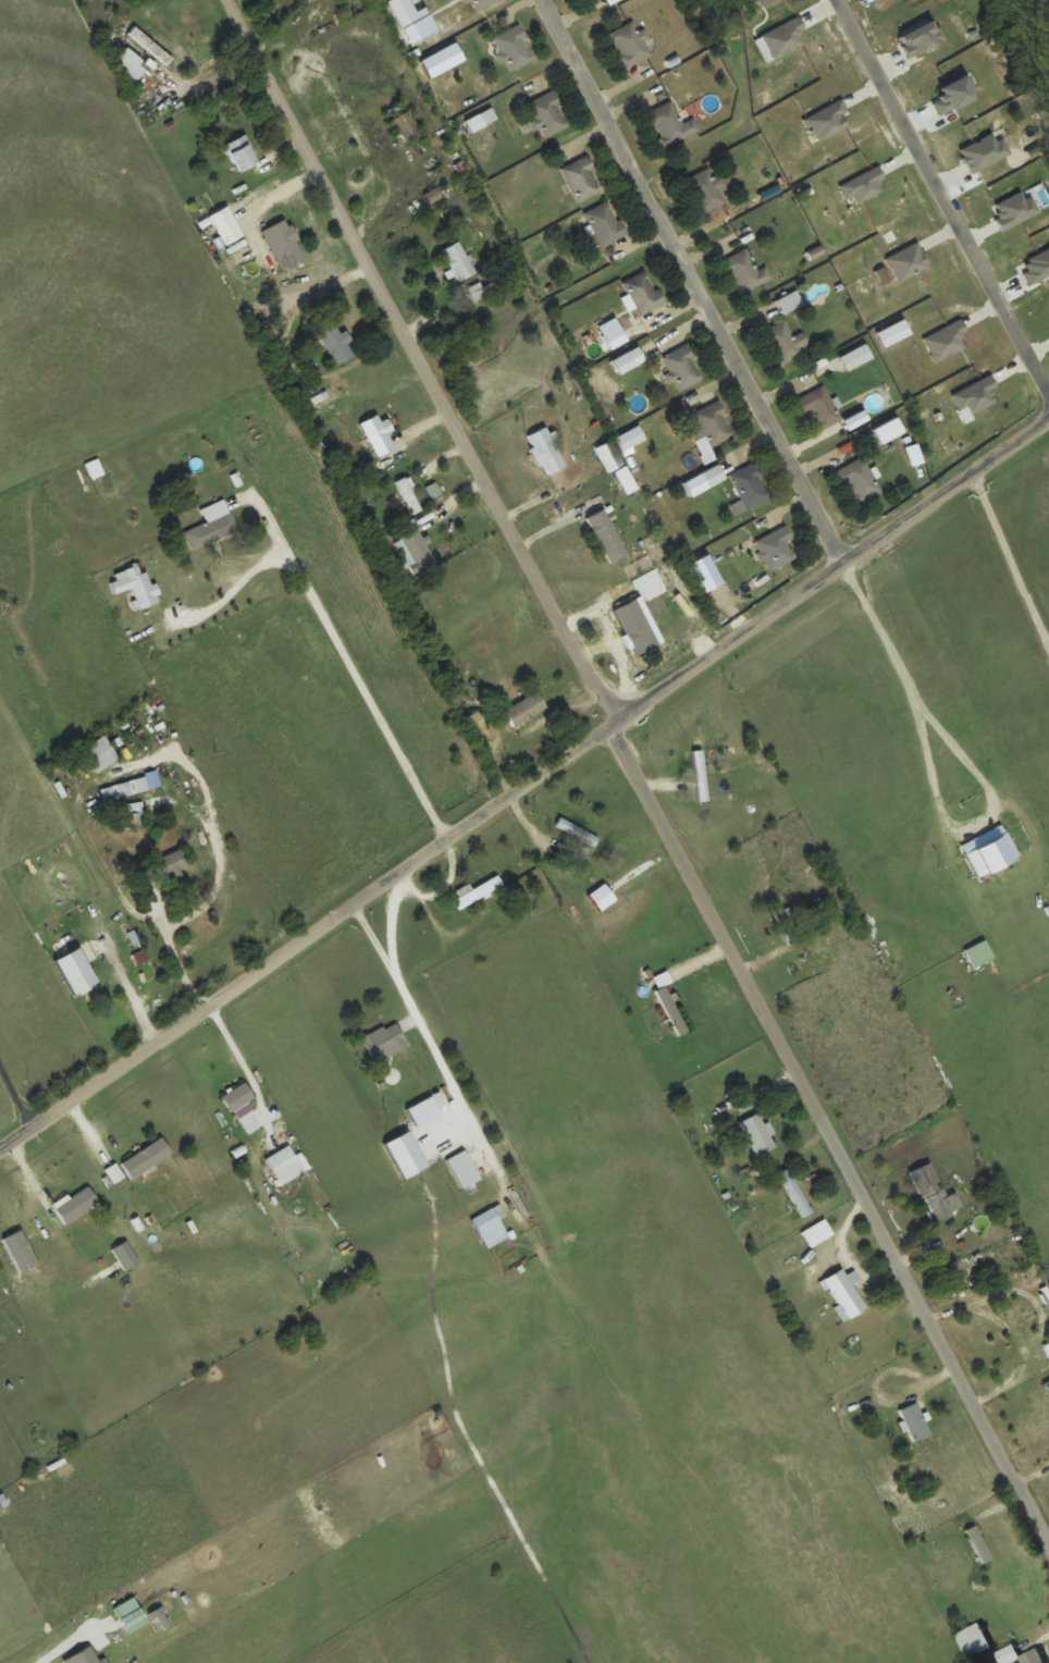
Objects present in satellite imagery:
building: (479, 2)
building: (631, 44)
building: (150, 45)
building: (514, 47)
building: (129, 64)
building: (547, 113)
building: (671, 123)
building: (406, 126)
building: (242, 152)
building: (582, 177)
road: (948, 182)
building: (706, 189)
building: (605, 223)
building: (281, 238)
building: (458, 261)
building: (746, 271)
road: (693, 280)
building: (643, 292)
building: (788, 303)
building: (336, 341)
building: (786, 342)
building: (855, 357)
road: (428, 367)
building: (682, 367)
building: (820, 406)
building: (713, 423)
building: (374, 435)
building: (546, 451)
building: (609, 455)
building: (95, 468)
building: (714, 475)
building: (626, 479)
building: (859, 479)
building: (749, 488)
building: (409, 495)
building: (211, 530)
building: (609, 530)
building: (776, 547)
building: (416, 551)
road: (1008, 559)
building: (644, 619)
road: (1048, 646)
road: (1048, 649)
building: (526, 707)
building: (101, 753)
road: (933, 776)
building: (701, 778)
road: (532, 794)
building: (577, 830)
building: (991, 855)
building: (575, 859)
building: (161, 866)
building: (476, 891)
building: (785, 920)
building: (107, 981)
building: (671, 1010)
building: (384, 1040)
building: (242, 1105)
building: (758, 1133)
road: (832, 1140)
building: (147, 1157)
building: (287, 1169)
building: (931, 1191)
building: (76, 1204)
building: (491, 1225)
building: (818, 1232)
building: (844, 1293)
building: (915, 1420)
building: (978, 1543)
building: (132, 1614)
building: (975, 1640)
road: (69, 1648)
building: (1035, 1656)

